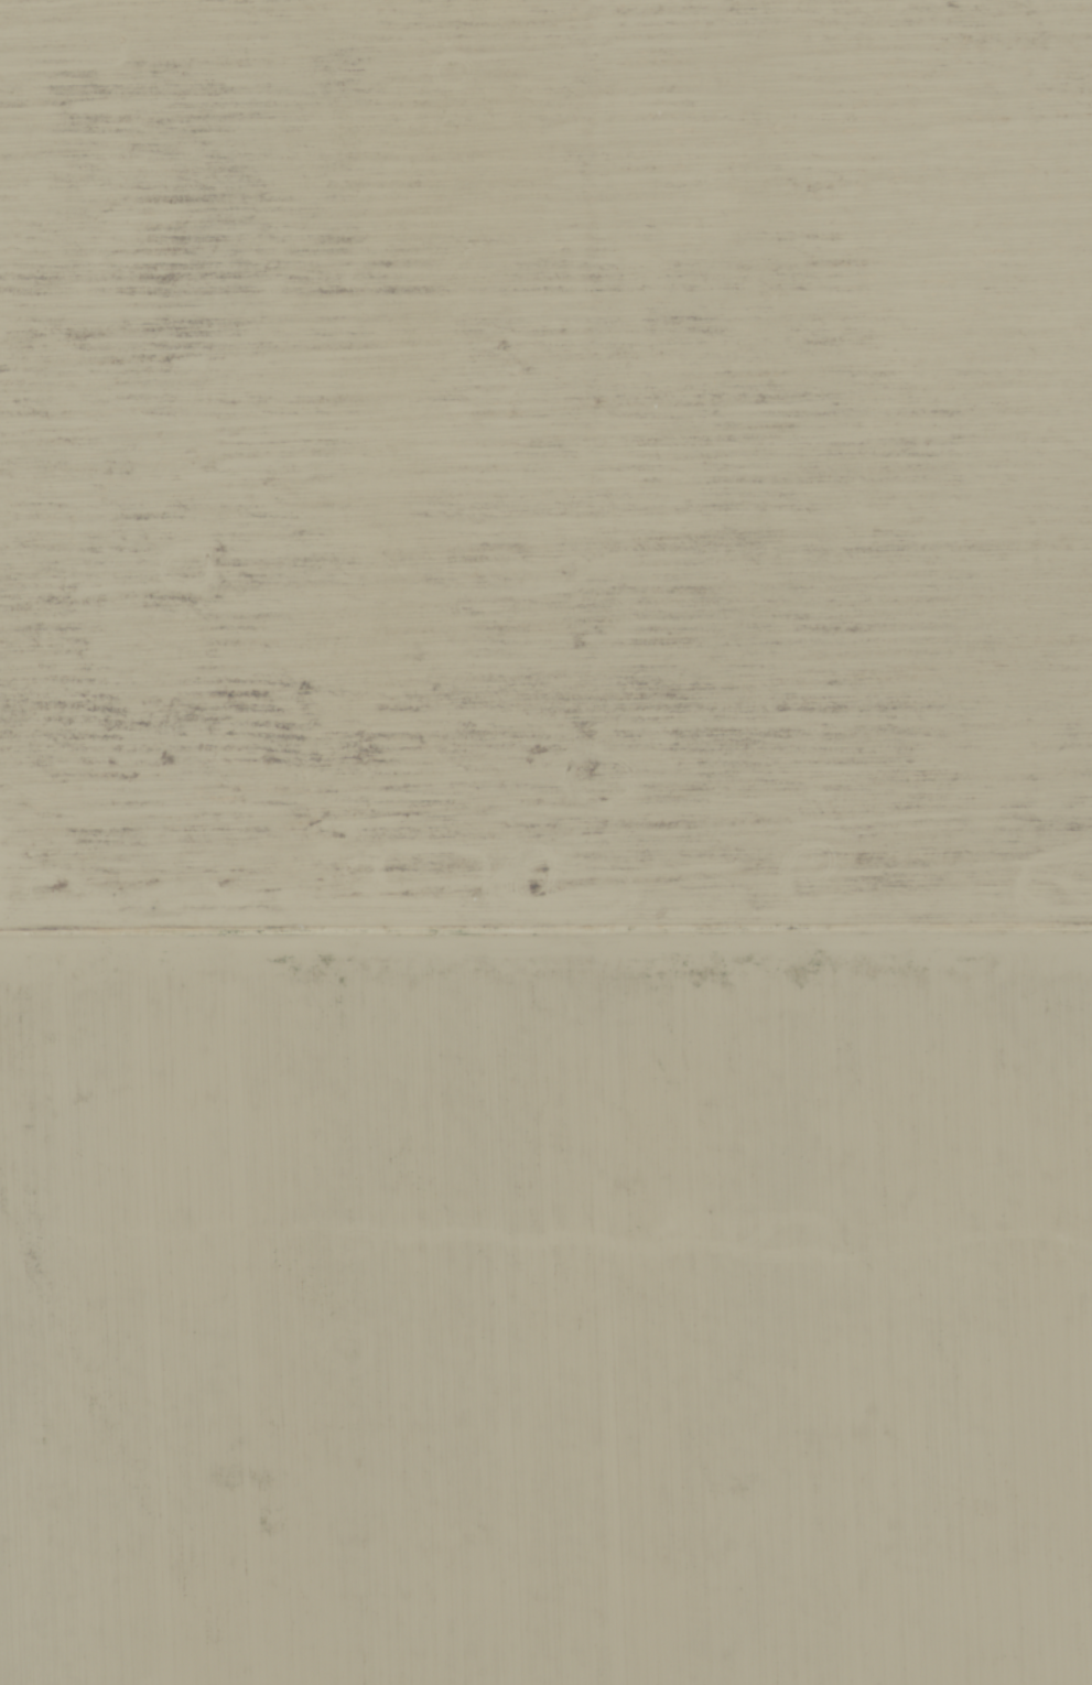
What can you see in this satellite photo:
road: (545, 126)
road: (545, 1004)

